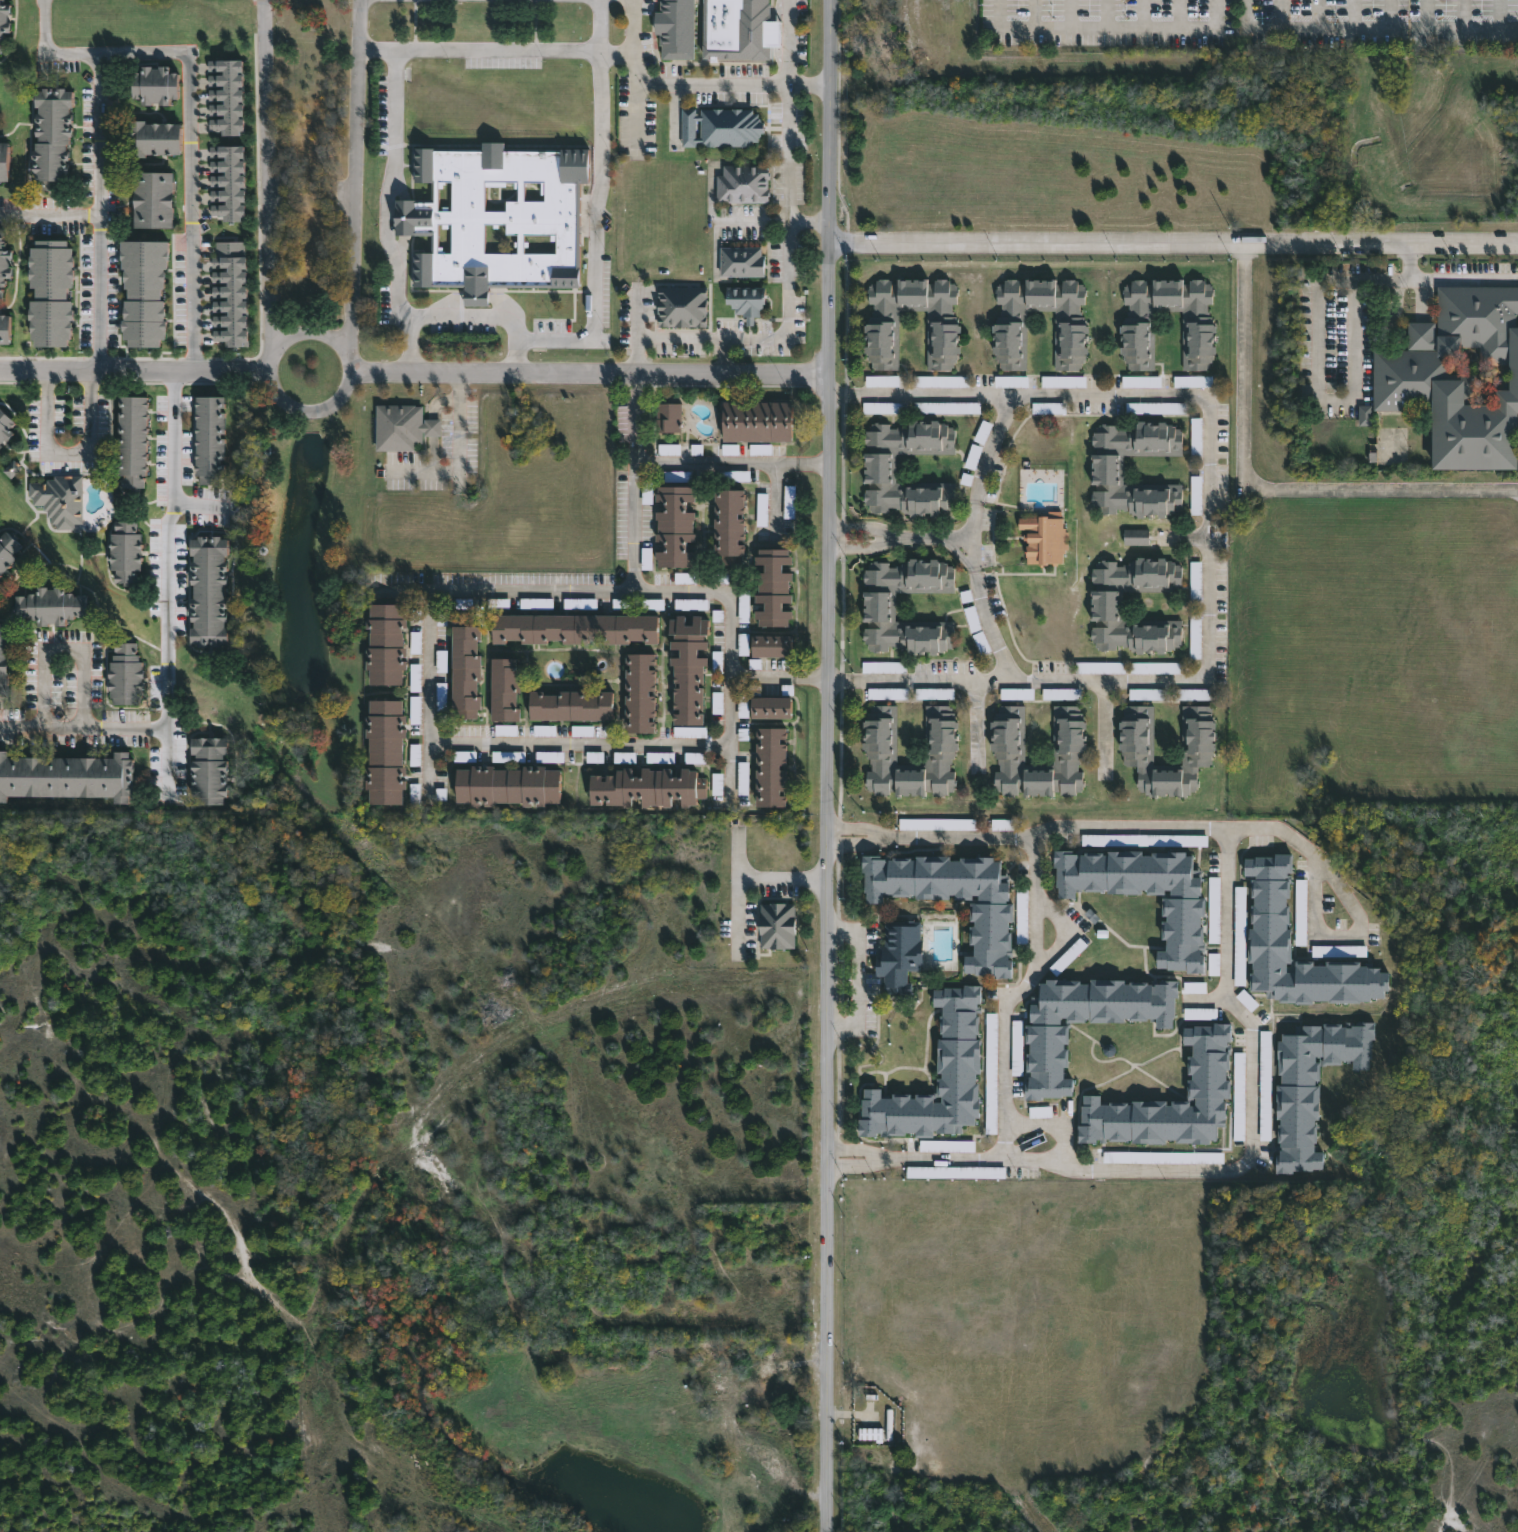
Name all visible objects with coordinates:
road: (589, 1)
road: (1034, 14)
road: (1069, 14)
road: (1105, 14)
road: (1141, 14)
road: (1179, 14)
road: (1215, 15)
road: (1248, 15)
road: (1281, 15)
road: (1320, 15)
road: (1356, 15)
road: (1390, 15)
road: (1428, 15)
road: (1463, 15)
road: (1500, 15)
building: (4, 22)
parking lot: (1249, 23)
road: (634, 29)
building: (676, 29)
building: (739, 30)
road: (1245, 30)
road: (789, 43)
road: (47, 53)
road: (601, 57)
building: (156, 85)
building: (227, 97)
building: (725, 128)
building: (53, 136)
building: (155, 139)
building: (4, 161)
road: (190, 168)
road: (269, 175)
road: (354, 175)
building: (228, 182)
building: (747, 185)
road: (99, 186)
building: (154, 201)
road: (603, 211)
building: (497, 218)
road: (810, 219)
road: (1174, 246)
building: (5, 263)
building: (745, 263)
road: (403, 272)
road: (1463, 278)
building: (144, 290)
building: (52, 292)
road: (99, 294)
building: (231, 295)
building: (749, 302)
road: (787, 304)
building: (682, 307)
building: (881, 322)
building: (1071, 323)
building: (1199, 327)
building: (7, 331)
road: (415, 348)
road: (1316, 351)
road: (133, 372)
road: (590, 377)
building: (1457, 378)
building: (1014, 380)
building: (882, 381)
building: (941, 381)
road: (344, 391)
road: (841, 395)
building: (881, 408)
road: (634, 411)
building: (671, 417)
building: (762, 420)
building: (5, 426)
building: (405, 427)
building: (210, 437)
building: (133, 439)
building: (0, 446)
road: (992, 446)
road: (634, 453)
road: (457, 455)
road: (716, 463)
building: (880, 464)
road: (814, 465)
road: (74, 468)
building: (1108, 473)
building: (55, 495)
building: (75, 496)
road: (775, 501)
road: (1257, 501)
building: (762, 510)
road: (860, 524)
road: (634, 525)
building: (676, 525)
building: (730, 526)
road: (973, 535)
road: (930, 536)
building: (1139, 537)
building: (1049, 538)
road: (1215, 540)
road: (862, 547)
building: (9, 551)
building: (129, 551)
building: (647, 559)
road: (174, 584)
building: (775, 587)
road: (661, 588)
building: (210, 591)
building: (537, 604)
building: (573, 604)
building: (621, 604)
building: (54, 605)
building: (691, 605)
building: (744, 606)
building: (1107, 606)
building: (881, 607)
building: (579, 628)
road: (986, 628)
building: (388, 645)
building: (773, 645)
road: (70, 655)
building: (5, 659)
building: (884, 667)
building: (690, 668)
building: (470, 671)
building: (129, 674)
road: (763, 677)
building: (416, 678)
road: (812, 678)
road: (840, 678)
building: (509, 689)
building: (645, 693)
building: (888, 694)
building: (934, 694)
building: (1011, 694)
road: (430, 695)
building: (1148, 695)
building: (578, 705)
building: (773, 707)
building: (416, 710)
road: (1108, 721)
road: (975, 722)
building: (690, 732)
road: (86, 737)
road: (582, 740)
building: (1070, 747)
building: (941, 750)
building: (386, 752)
building: (1136, 753)
building: (625, 757)
building: (660, 758)
road: (830, 765)
building: (772, 767)
building: (213, 770)
building: (69, 776)
building: (743, 778)
building: (506, 785)
building: (647, 787)
building: (937, 825)
road: (865, 827)
road: (1063, 828)
road: (1273, 830)
road: (864, 839)
building: (1097, 840)
building: (1164, 840)
road: (737, 853)
road: (744, 879)
building: (1185, 908)
building: (1214, 910)
building: (991, 912)
building: (1301, 913)
building: (1022, 916)
building: (1240, 924)
building: (778, 926)
building: (1269, 937)
road: (1344, 938)
building: (1326, 951)
building: (897, 955)
road: (858, 979)
building: (1048, 1035)
building: (1016, 1048)
building: (959, 1057)
building: (1265, 1086)
building: (1312, 1086)
building: (1209, 1088)
building: (1239, 1096)
building: (1040, 1112)
building: (947, 1146)
road: (868, 1148)
road: (957, 1156)
building: (1163, 1158)
road: (868, 1165)
road: (1133, 1168)
building: (951, 1172)
road: (851, 1414)
building: (871, 1434)

